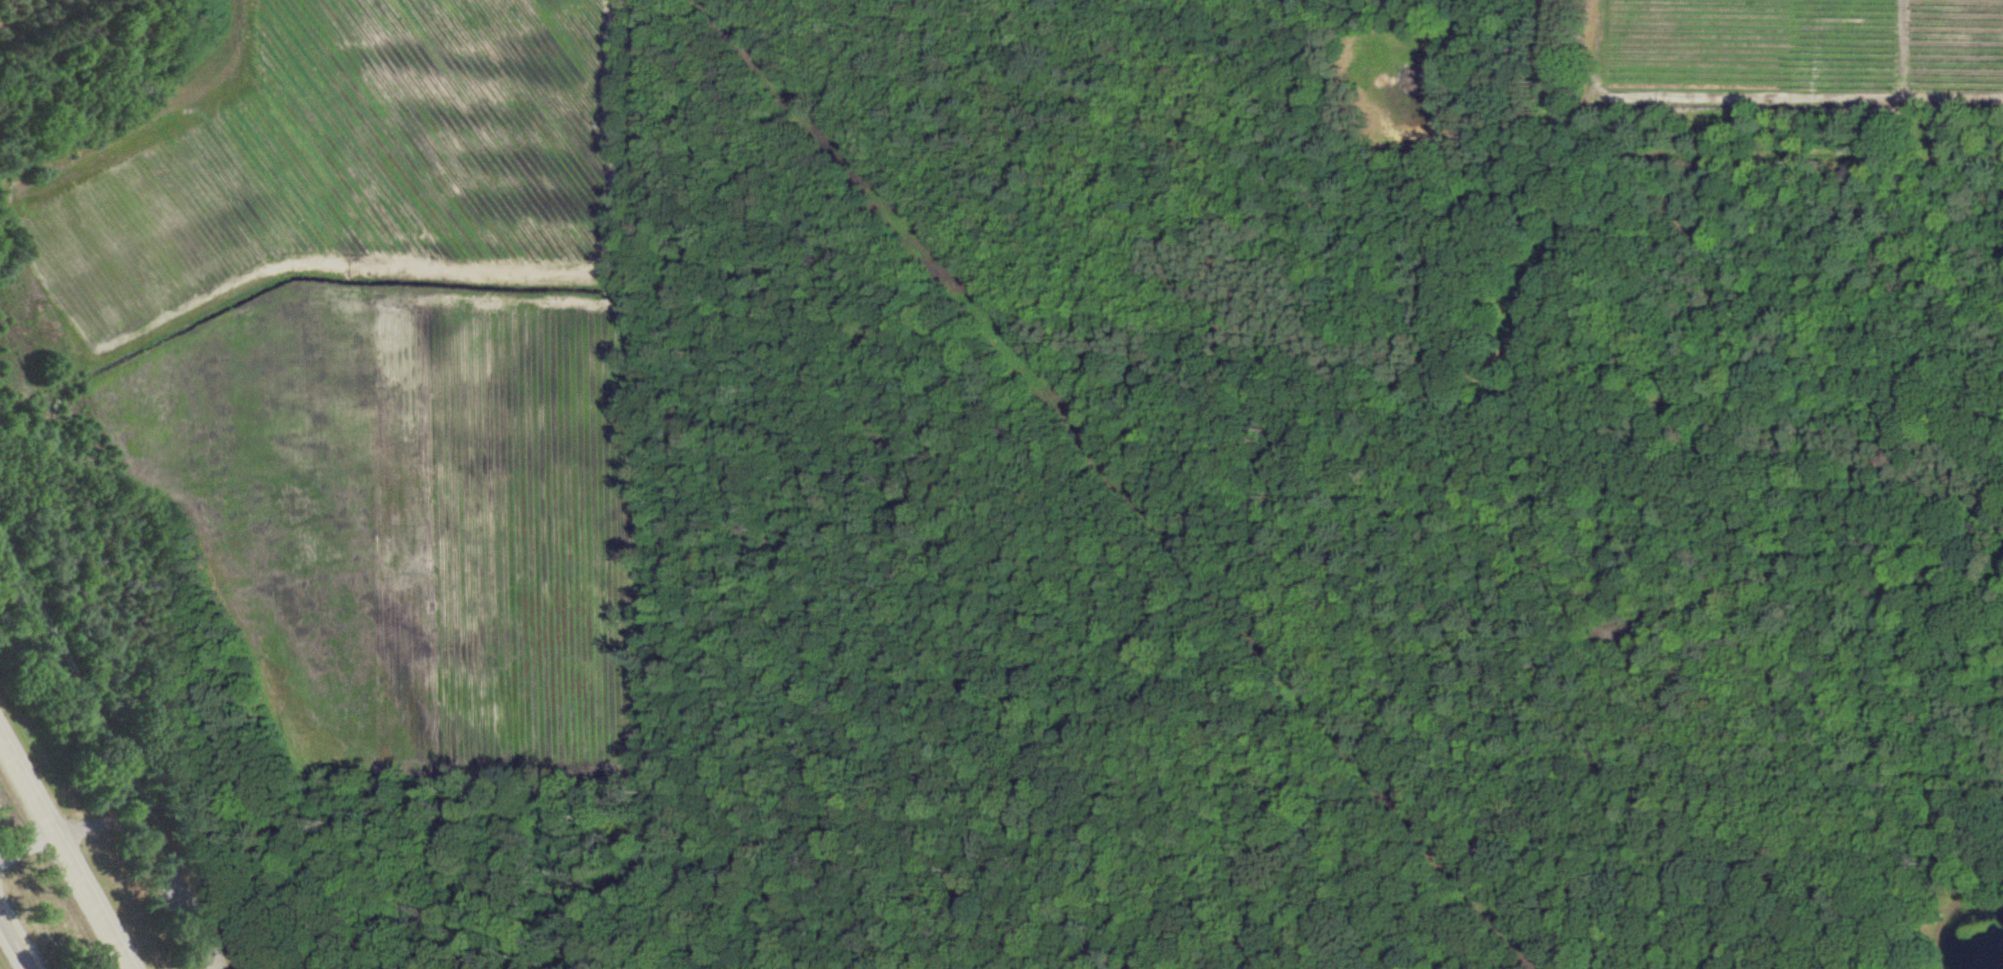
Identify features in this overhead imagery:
road: (26, 785)
road: (26, 847)
road: (164, 854)
park: (163, 892)
road: (91, 901)
road: (15, 942)

